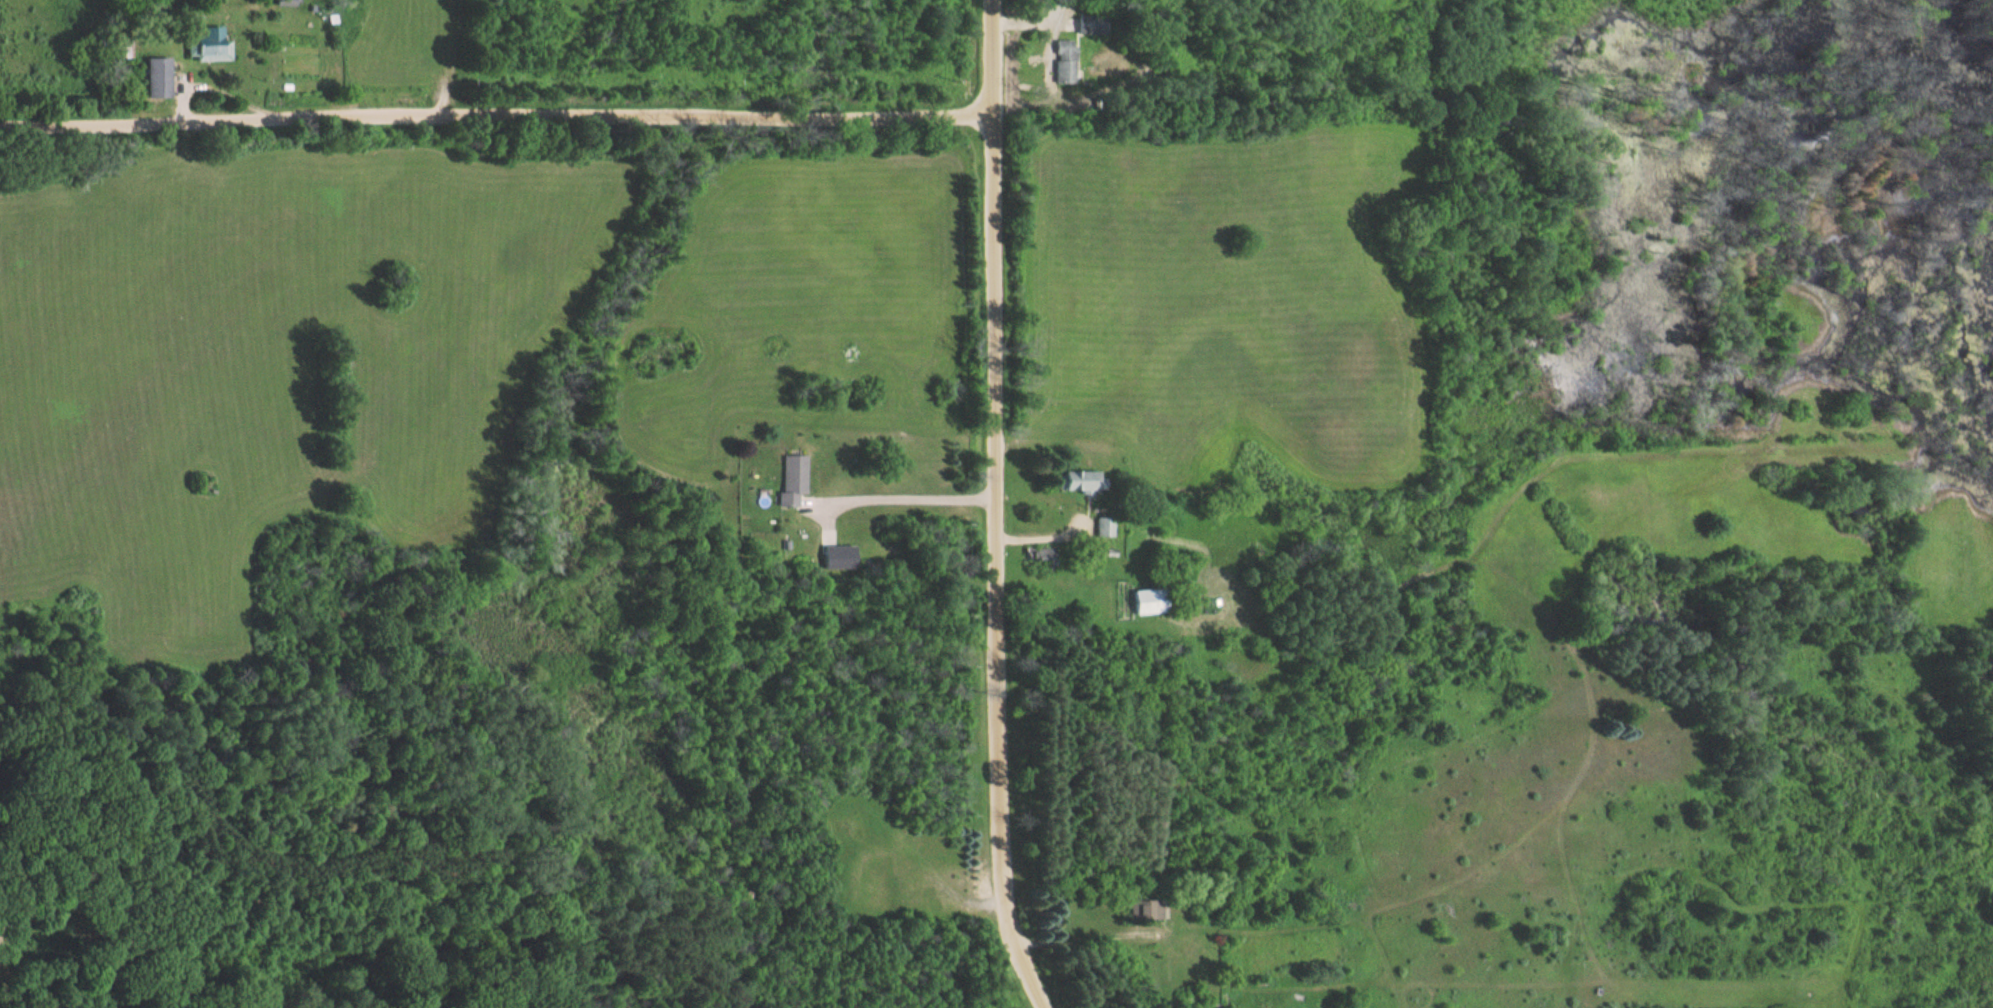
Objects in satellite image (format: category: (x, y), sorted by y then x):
building: (115, 48)
road: (994, 60)
building: (1060, 62)
building: (149, 78)
road: (496, 114)
building: (788, 480)
building: (1072, 482)
road: (909, 496)
building: (1098, 528)
building: (1032, 555)
building: (832, 558)
road: (1000, 569)
building: (1139, 602)
building: (1140, 910)

